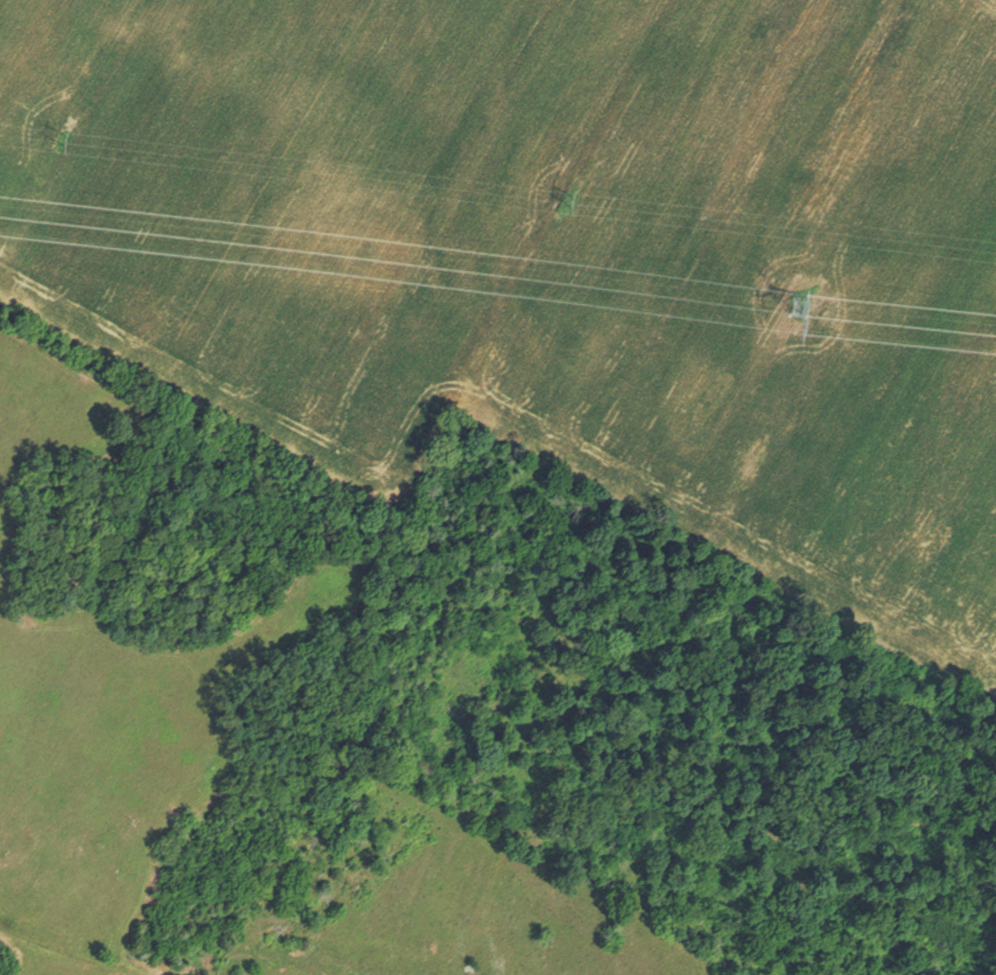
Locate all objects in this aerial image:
power tower: (55, 148)
power tower: (563, 204)
power tower: (828, 296)

